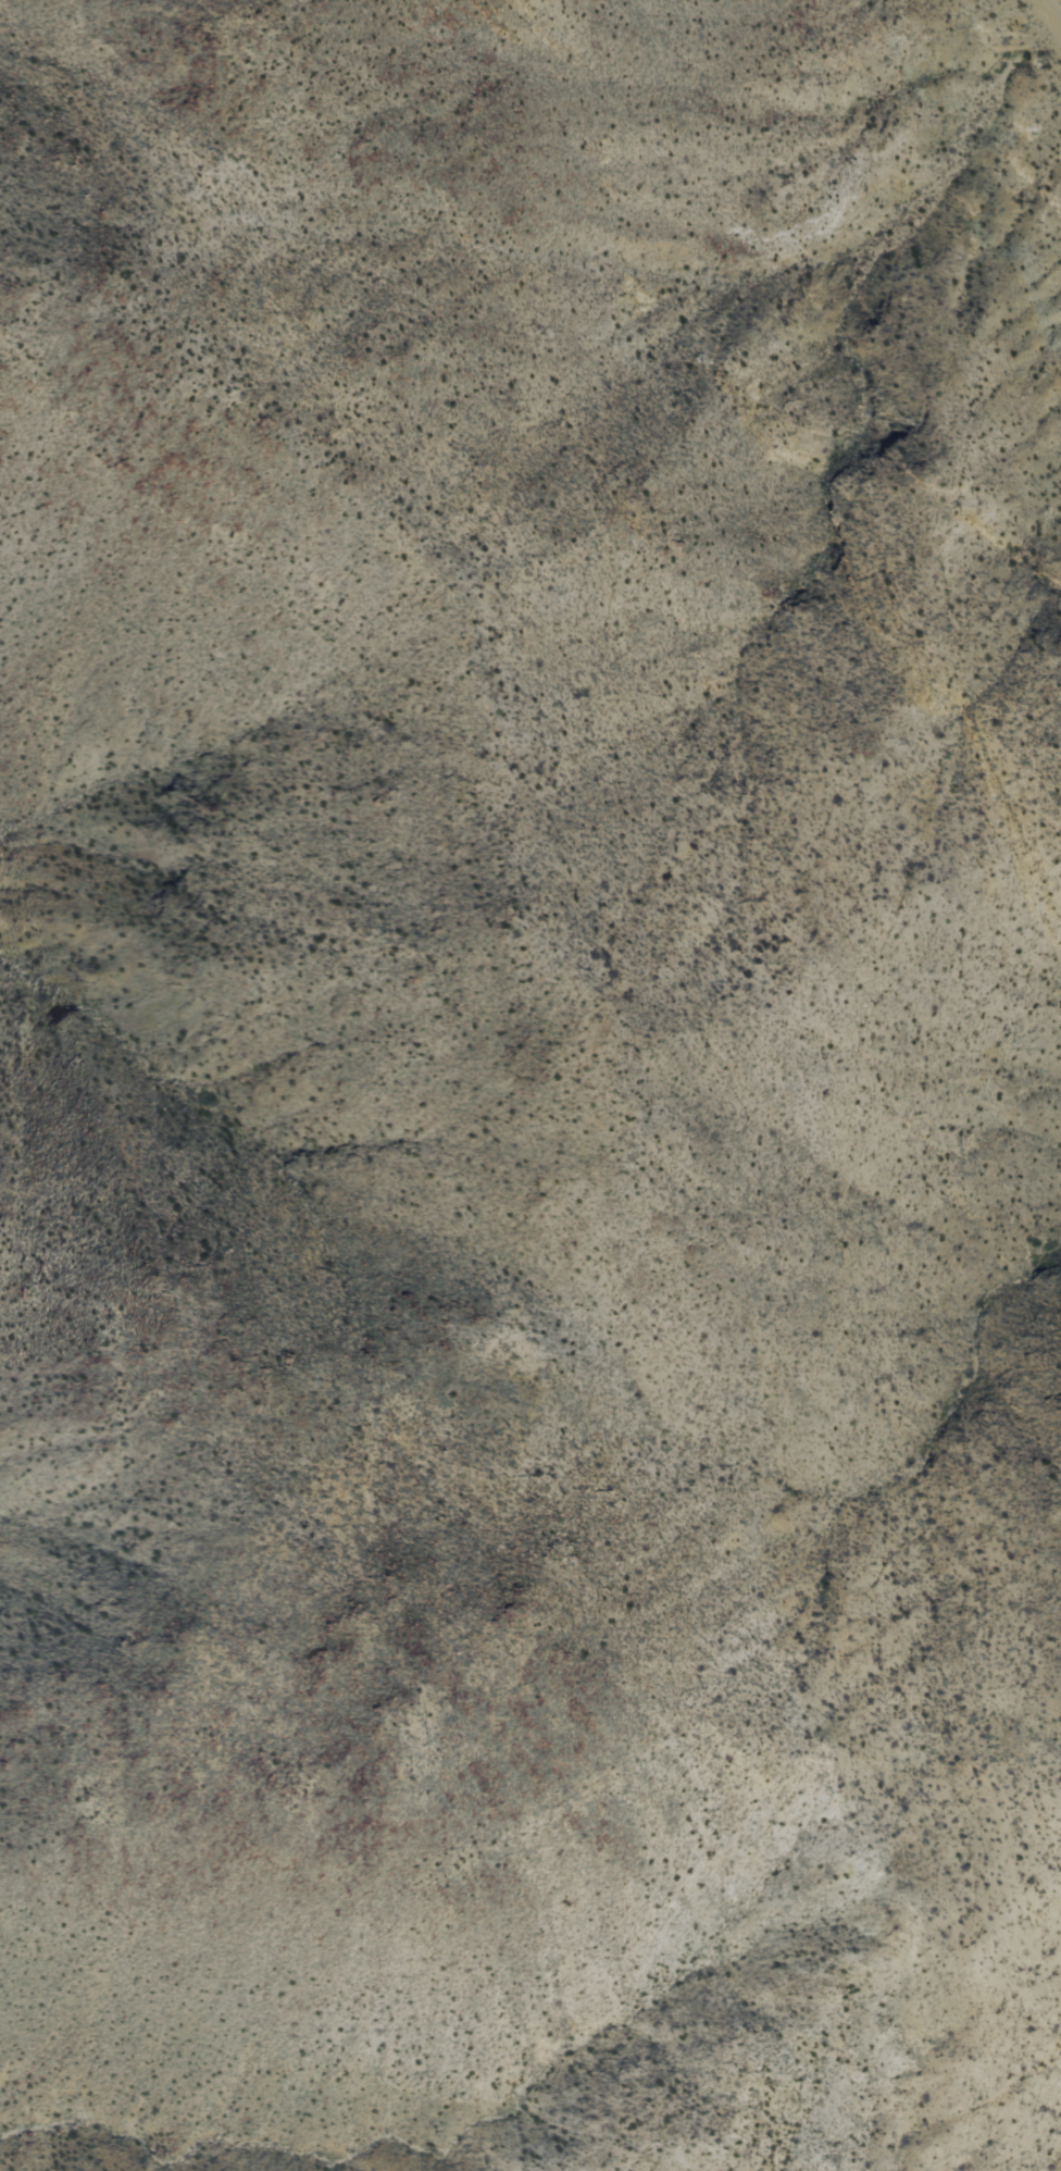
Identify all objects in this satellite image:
road: (1053, 9)

